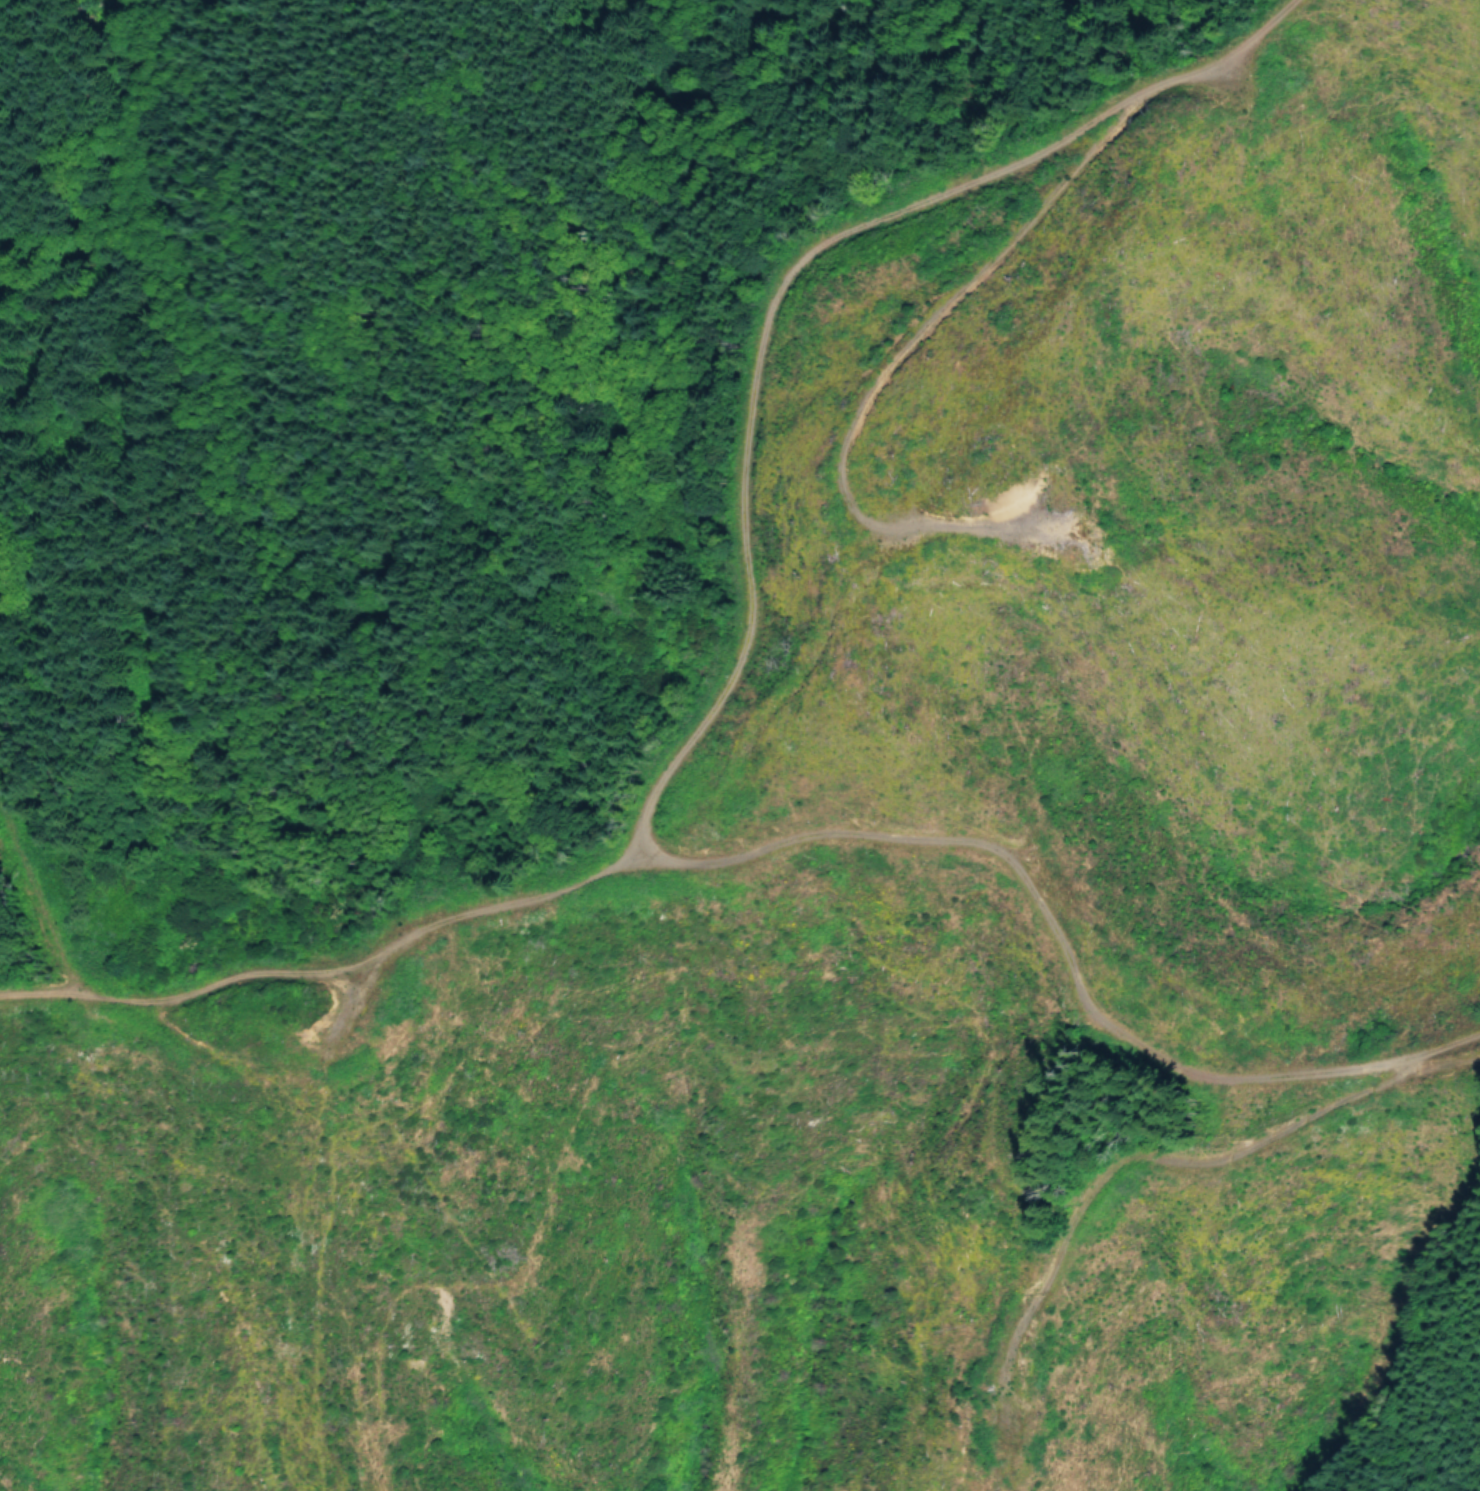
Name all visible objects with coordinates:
road: (716, 601)
road: (1056, 885)

